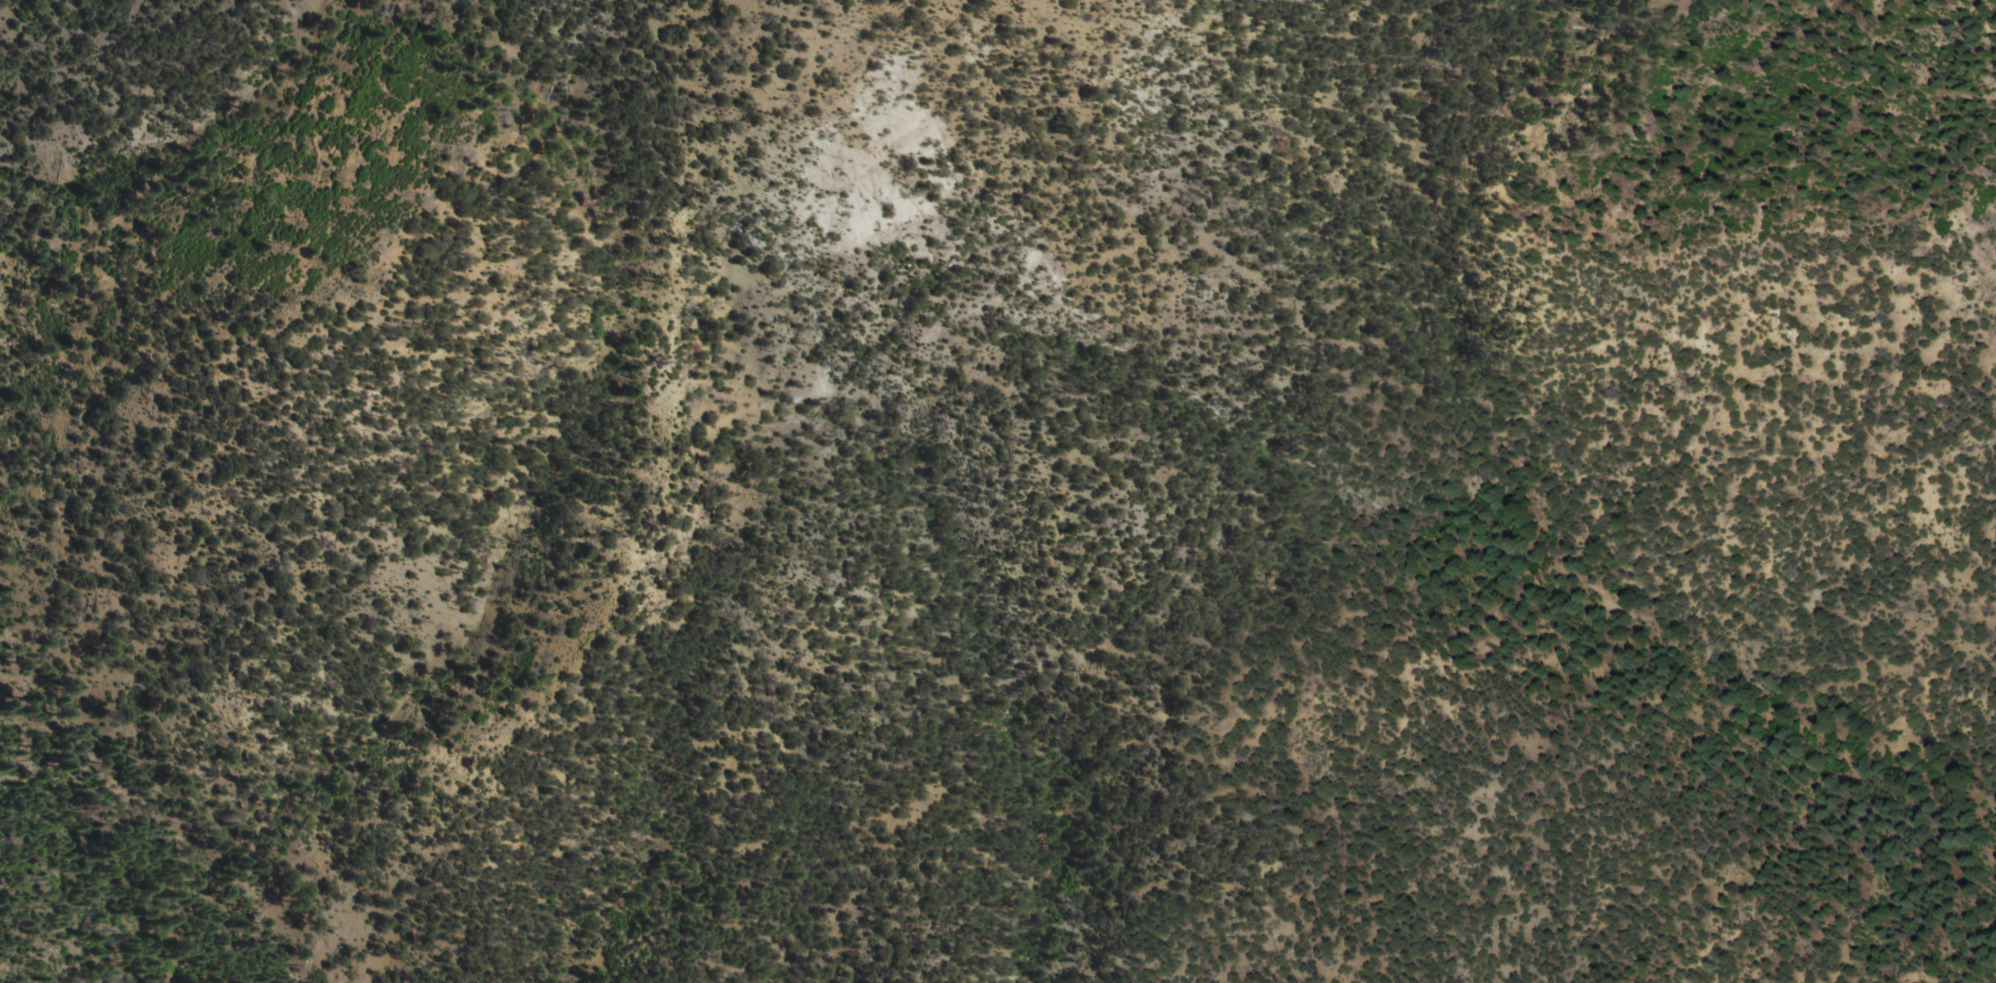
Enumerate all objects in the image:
road: (19, 35)

